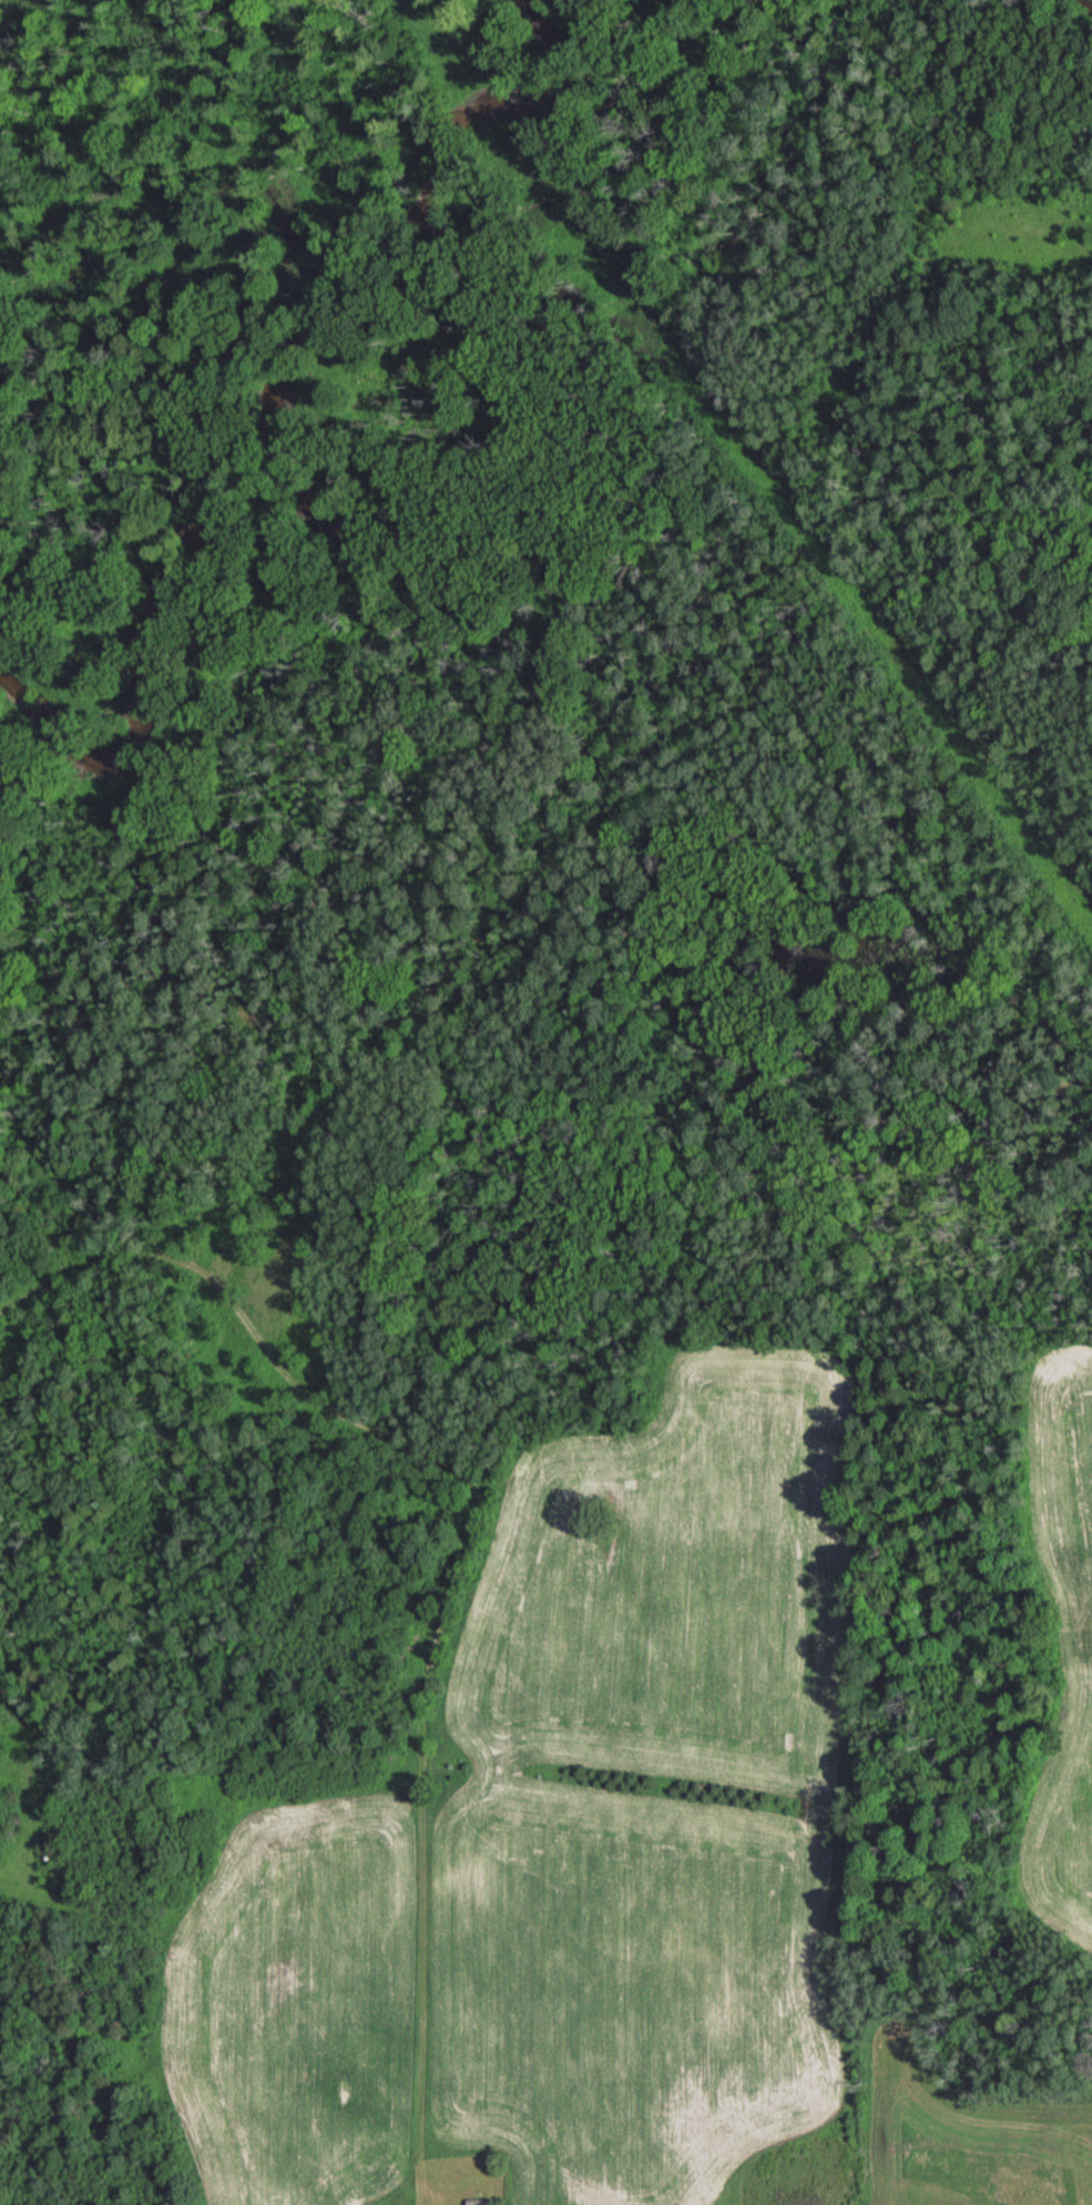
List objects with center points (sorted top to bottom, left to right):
river: (338, 513)
road: (470, 1556)
building: (478, 2202)

